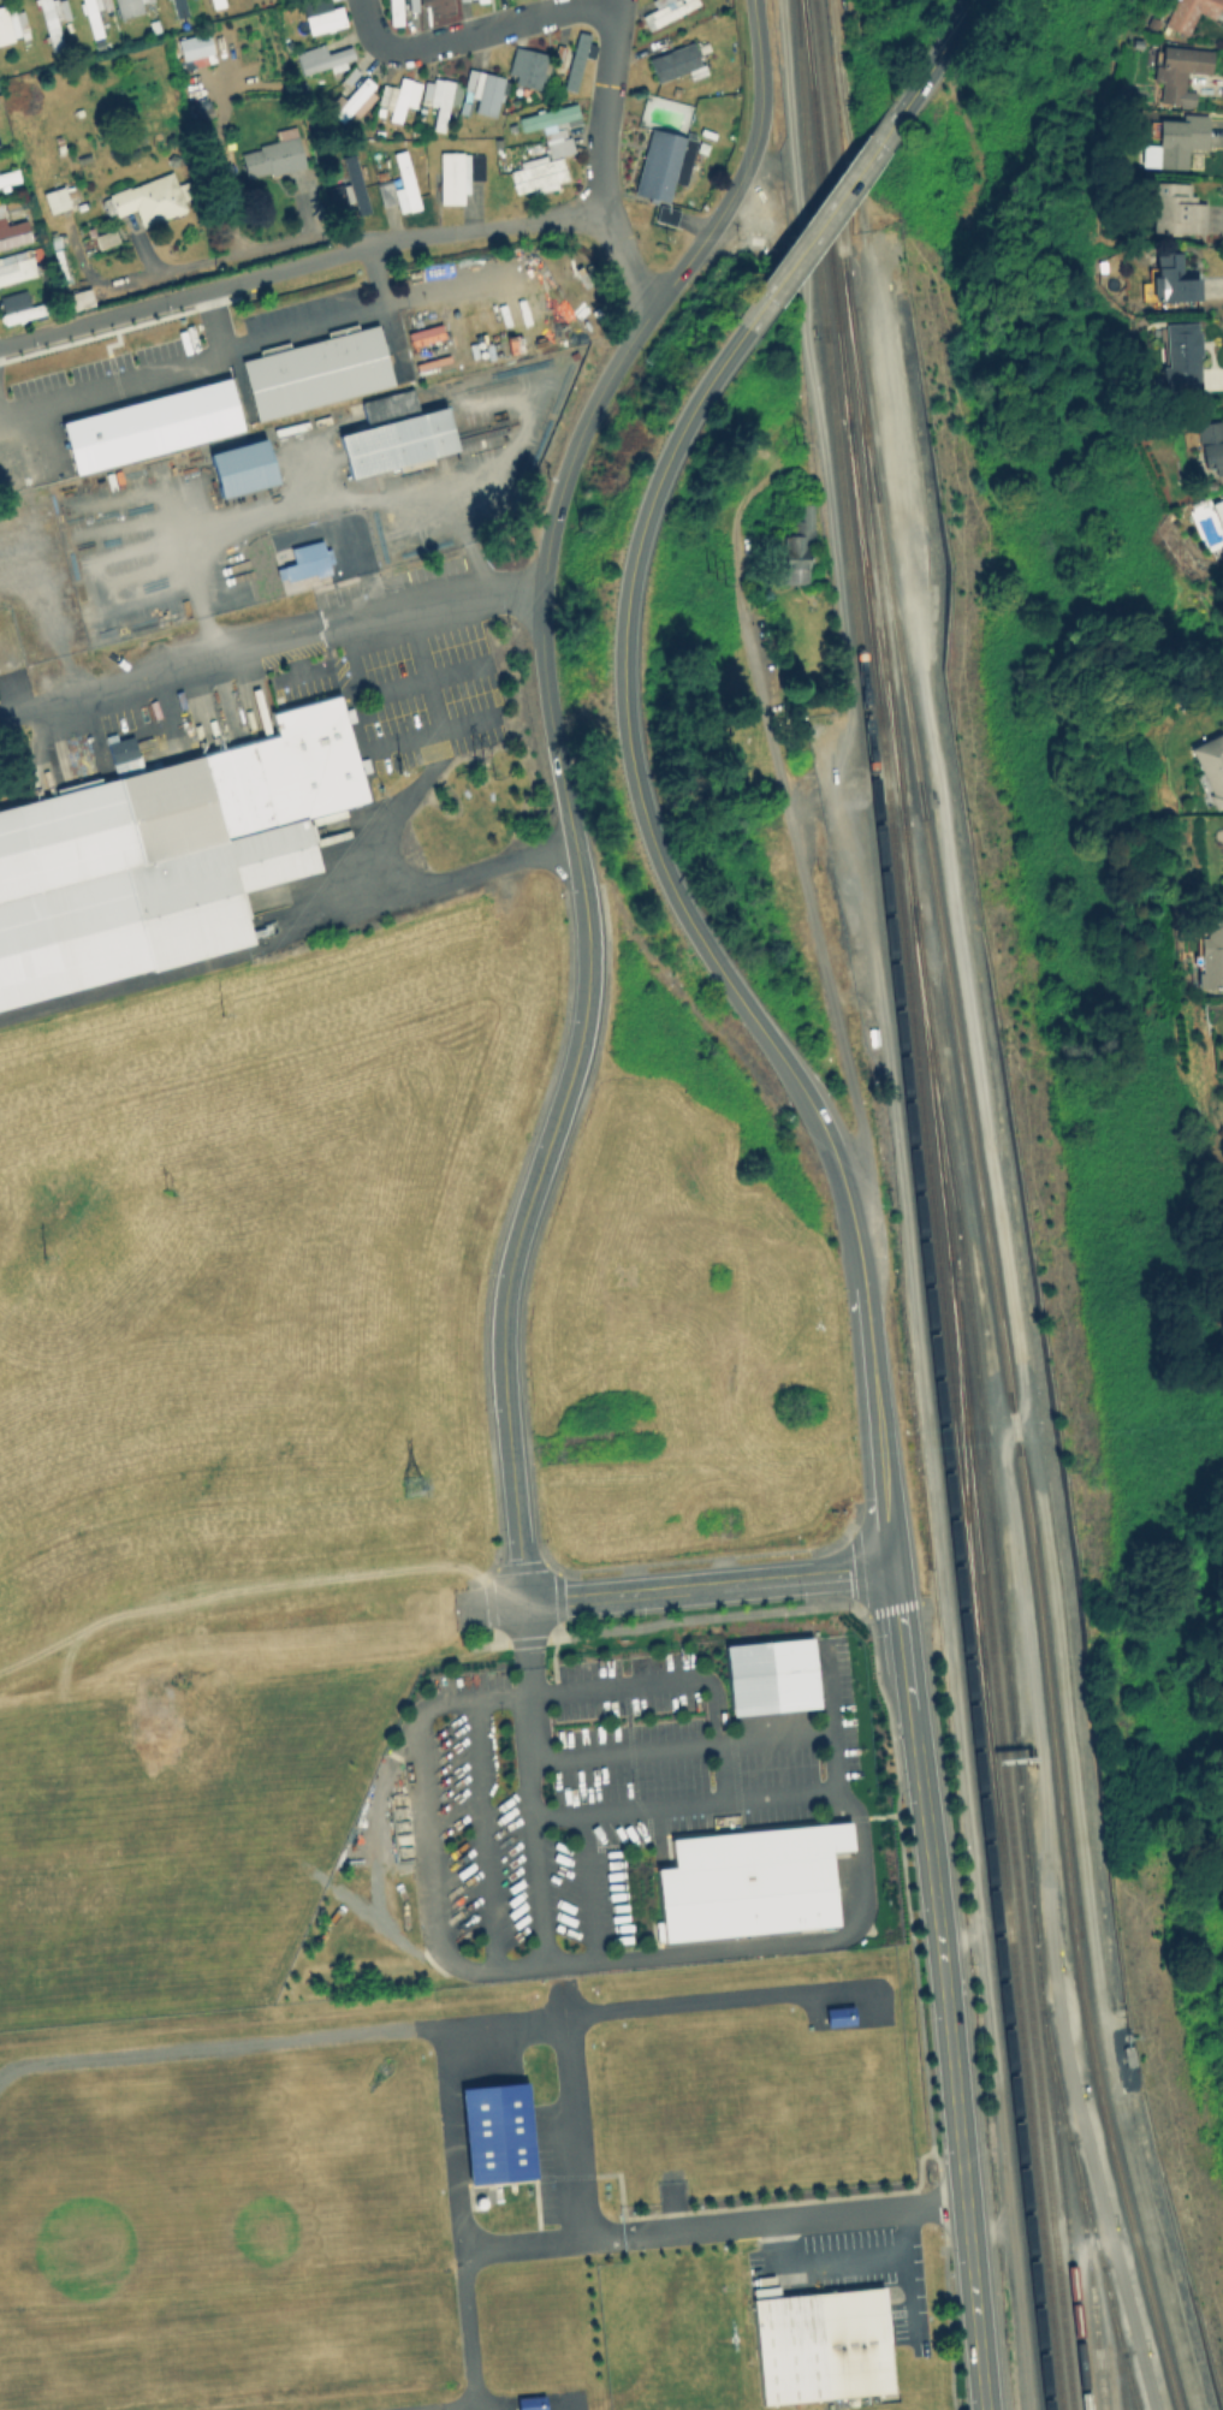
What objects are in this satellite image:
building: (470, 0)
building: (215, 2)
building: (106, 4)
building: (412, 5)
building: (438, 5)
building: (127, 6)
building: (179, 7)
building: (394, 11)
building: (665, 11)
building: (1186, 12)
building: (90, 14)
building: (52, 17)
building: (323, 18)
building: (7, 23)
road: (477, 31)
building: (194, 44)
building: (322, 57)
building: (577, 58)
road: (934, 59)
building: (673, 60)
building: (532, 64)
building: (1177, 70)
building: (482, 90)
building: (402, 95)
building: (440, 96)
building: (351, 100)
building: (202, 108)
building: (553, 125)
building: (1172, 141)
building: (273, 154)
road: (604, 158)
building: (663, 162)
building: (457, 173)
building: (538, 173)
building: (7, 177)
building: (405, 179)
building: (351, 184)
building: (149, 197)
building: (54, 198)
building: (1174, 207)
railway: (824, 208)
building: (1, 210)
building: (665, 213)
road: (819, 220)
building: (13, 231)
building: (105, 237)
building: (59, 255)
building: (16, 265)
road: (299, 265)
road: (376, 273)
building: (1169, 277)
road: (450, 286)
building: (73, 297)
building: (19, 305)
road: (214, 321)
building: (1180, 354)
road: (191, 363)
building: (316, 369)
road: (598, 399)
railway: (856, 410)
building: (150, 425)
building: (396, 434)
power tower: (797, 443)
building: (1210, 444)
building: (241, 467)
building: (1217, 512)
building: (795, 548)
building: (305, 560)
power tower: (713, 576)
railway: (873, 618)
building: (784, 622)
road: (271, 648)
road: (388, 689)
road: (431, 729)
building: (120, 748)
road: (624, 754)
building: (1209, 764)
power tower: (483, 767)
road: (778, 805)
road: (381, 831)
building: (162, 861)
road: (346, 909)
building: (1210, 955)
building: (871, 1037)
railway: (913, 1039)
railway: (925, 1039)
power tower: (167, 1194)
railway: (916, 1205)
road: (998, 1209)
road: (524, 1213)
railway: (1002, 1341)
road: (871, 1361)
railway: (963, 1460)
power tower: (425, 1489)
road: (710, 1585)
road: (488, 1605)
road: (526, 1634)
railway: (1005, 1657)
building: (767, 1673)
road: (649, 1681)
road: (773, 1737)
road: (623, 1750)
road: (427, 1829)
railway: (1011, 1834)
road: (481, 1836)
building: (748, 1878)
road: (691, 1953)
road: (944, 1988)
building: (836, 2014)
railway: (1019, 2035)
building: (493, 2129)
railway: (1091, 2213)
road: (794, 2225)
road: (1087, 2242)
road: (824, 2260)
road: (485, 2268)
railway: (1088, 2275)
road: (907, 2281)
road: (1105, 2325)
road: (1086, 2326)
railway: (1115, 2338)
building: (819, 2343)
road: (1099, 2355)
railway: (1129, 2382)
building: (529, 2403)

